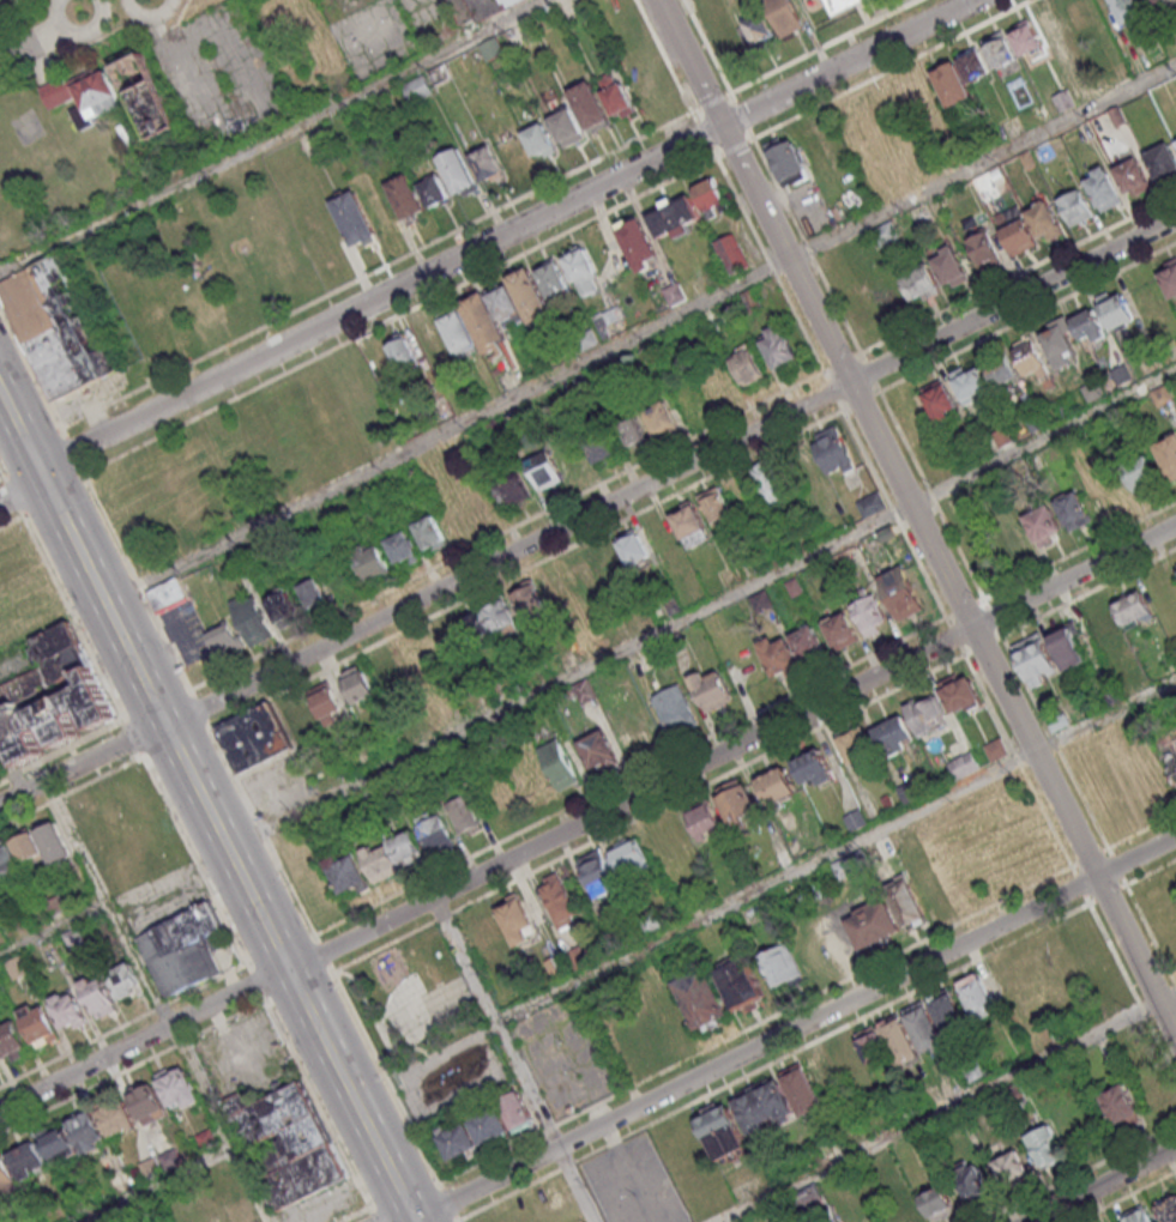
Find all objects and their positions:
building: (1153, 1)
building: (836, 5)
building: (477, 10)
building: (1126, 10)
building: (1078, 14)
building: (782, 16)
building: (1050, 24)
building: (759, 29)
road: (42, 37)
building: (1025, 38)
road: (707, 47)
road: (824, 47)
building: (491, 48)
road: (1, 53)
building: (1000, 53)
road: (665, 56)
building: (973, 66)
road: (894, 69)
building: (954, 86)
building: (417, 89)
building: (84, 95)
building: (147, 95)
building: (616, 96)
road: (712, 103)
building: (589, 105)
road: (743, 115)
building: (566, 126)
road: (277, 135)
building: (539, 140)
building: (1162, 158)
building: (788, 161)
building: (486, 163)
building: (457, 170)
building: (1130, 174)
building: (984, 182)
building: (1103, 188)
building: (434, 189)
building: (710, 195)
building: (406, 196)
building: (1074, 206)
building: (675, 216)
building: (354, 219)
building: (1044, 220)
building: (1019, 236)
building: (638, 242)
road: (482, 247)
building: (984, 249)
building: (731, 253)
building: (948, 265)
building: (583, 270)
building: (553, 278)
building: (1169, 278)
building: (921, 283)
building: (674, 294)
road: (315, 300)
building: (503, 309)
building: (1116, 309)
road: (1029, 317)
building: (55, 325)
building: (1087, 325)
building: (458, 331)
road: (638, 333)
building: (432, 341)
building: (1057, 343)
building: (778, 347)
building: (402, 350)
building: (1032, 359)
building: (746, 364)
building: (1002, 371)
building: (1120, 375)
building: (971, 383)
building: (1162, 394)
building: (940, 400)
building: (661, 418)
building: (633, 431)
building: (1003, 435)
road: (879, 437)
building: (602, 449)
building: (832, 450)
building: (1168, 454)
building: (1139, 473)
road: (2, 479)
building: (527, 479)
building: (770, 482)
road: (933, 495)
traffic signals: (14, 500)
building: (870, 503)
building: (714, 506)
building: (1072, 508)
road: (587, 510)
road: (895, 515)
building: (454, 520)
road: (12, 522)
building: (1043, 524)
building: (689, 525)
building: (430, 532)
building: (1012, 542)
building: (632, 546)
building: (403, 549)
road: (1080, 551)
building: (608, 561)
building: (372, 562)
building: (1175, 563)
building: (581, 577)
building: (900, 592)
building: (167, 593)
building: (313, 594)
building: (527, 597)
building: (283, 606)
road: (966, 607)
road: (700, 609)
building: (1133, 609)
building: (869, 615)
building: (252, 618)
road: (994, 618)
building: (487, 622)
building: (1100, 627)
building: (840, 630)
road: (957, 636)
building: (225, 639)
building: (808, 643)
road: (984, 646)
building: (1068, 646)
building: (779, 657)
building: (1036, 660)
building: (390, 673)
building: (357, 684)
building: (586, 690)
road: (1029, 690)
building: (712, 691)
building: (960, 694)
building: (58, 697)
building: (325, 700)
building: (675, 710)
building: (927, 713)
building: (298, 715)
building: (893, 734)
building: (254, 737)
building: (856, 745)
road: (60, 748)
building: (597, 749)
building: (995, 749)
building: (557, 763)
building: (963, 764)
building: (813, 768)
road: (11, 769)
building: (777, 785)
building: (736, 799)
road: (207, 809)
building: (463, 813)
building: (855, 818)
building: (704, 819)
road: (589, 822)
building: (435, 834)
building: (55, 842)
road: (187, 845)
road: (836, 852)
building: (19, 853)
building: (392, 853)
building: (628, 855)
building: (596, 870)
road: (1151, 871)
building: (348, 872)
building: (931, 889)
building: (559, 900)
building: (906, 903)
building: (517, 919)
building: (872, 922)
road: (54, 928)
road: (1151, 934)
road: (915, 944)
building: (1085, 945)
building: (182, 949)
road: (324, 952)
road: (1138, 955)
building: (779, 964)
building: (556, 966)
building: (17, 967)
building: (123, 980)
building: (741, 985)
building: (97, 996)
building: (977, 996)
road: (159, 999)
building: (701, 999)
building: (67, 1011)
building: (948, 1012)
building: (37, 1023)
road: (846, 1027)
building: (924, 1027)
road: (790, 1032)
building: (11, 1039)
building: (899, 1040)
building: (870, 1043)
road: (515, 1060)
building: (0, 1066)
road: (132, 1067)
building: (179, 1087)
building: (1156, 1089)
building: (147, 1103)
building: (761, 1105)
road: (947, 1107)
building: (1121, 1107)
building: (517, 1111)
building: (116, 1118)
building: (86, 1131)
building: (474, 1132)
building: (722, 1132)
building: (206, 1138)
building: (59, 1144)
building: (288, 1145)
building: (1045, 1147)
building: (28, 1161)
building: (161, 1163)
building: (1011, 1167)
building: (6, 1174)
building: (971, 1179)
parking lot: (633, 1182)
road: (153, 1184)
road: (1102, 1184)
building: (937, 1203)
building: (239, 1208)
building: (1166, 1209)
building: (898, 1214)
road: (356, 1215)
building: (1138, 1216)

